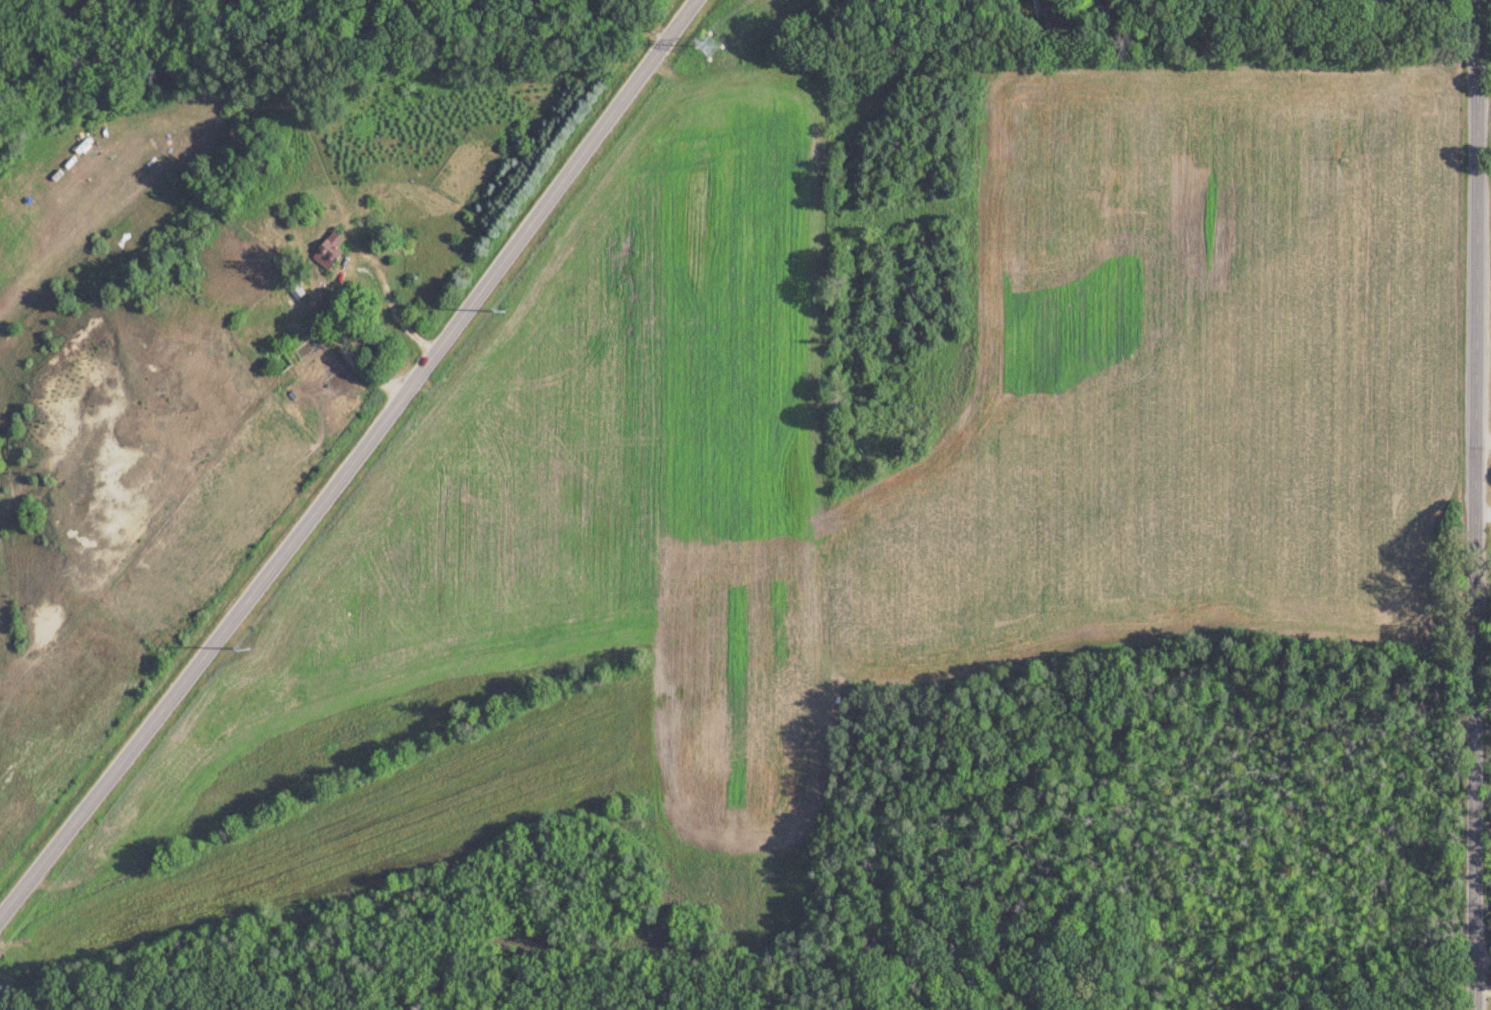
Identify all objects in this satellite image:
road: (1078, 3)
power tower: (705, 46)
building: (325, 251)
road: (389, 289)
power tower: (504, 310)
road: (1481, 444)
road: (350, 458)
road: (1472, 504)
power tower: (249, 648)
road: (1481, 960)
road: (1481, 990)

